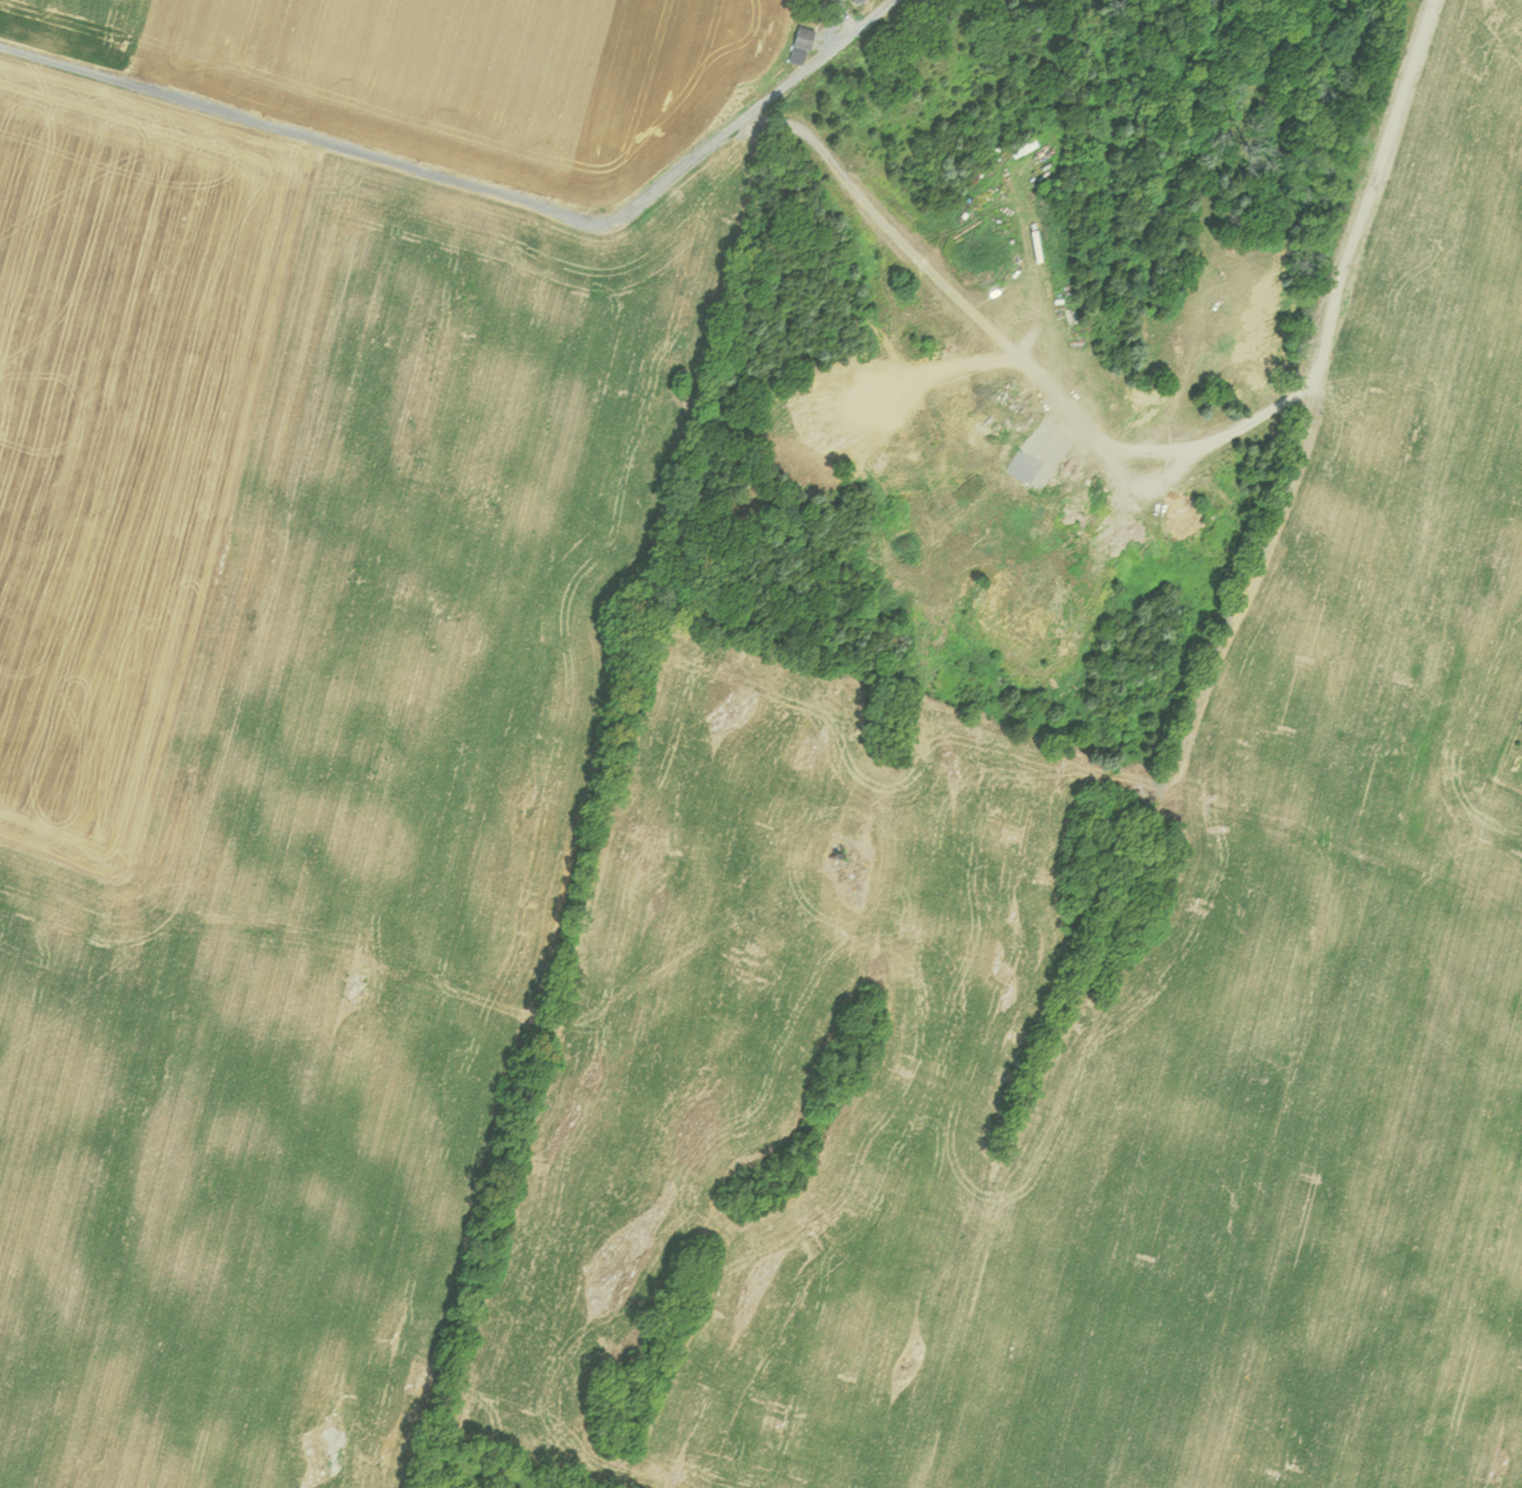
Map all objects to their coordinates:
building: (846, 1)
building: (797, 47)
road: (1297, 67)
road: (474, 182)

